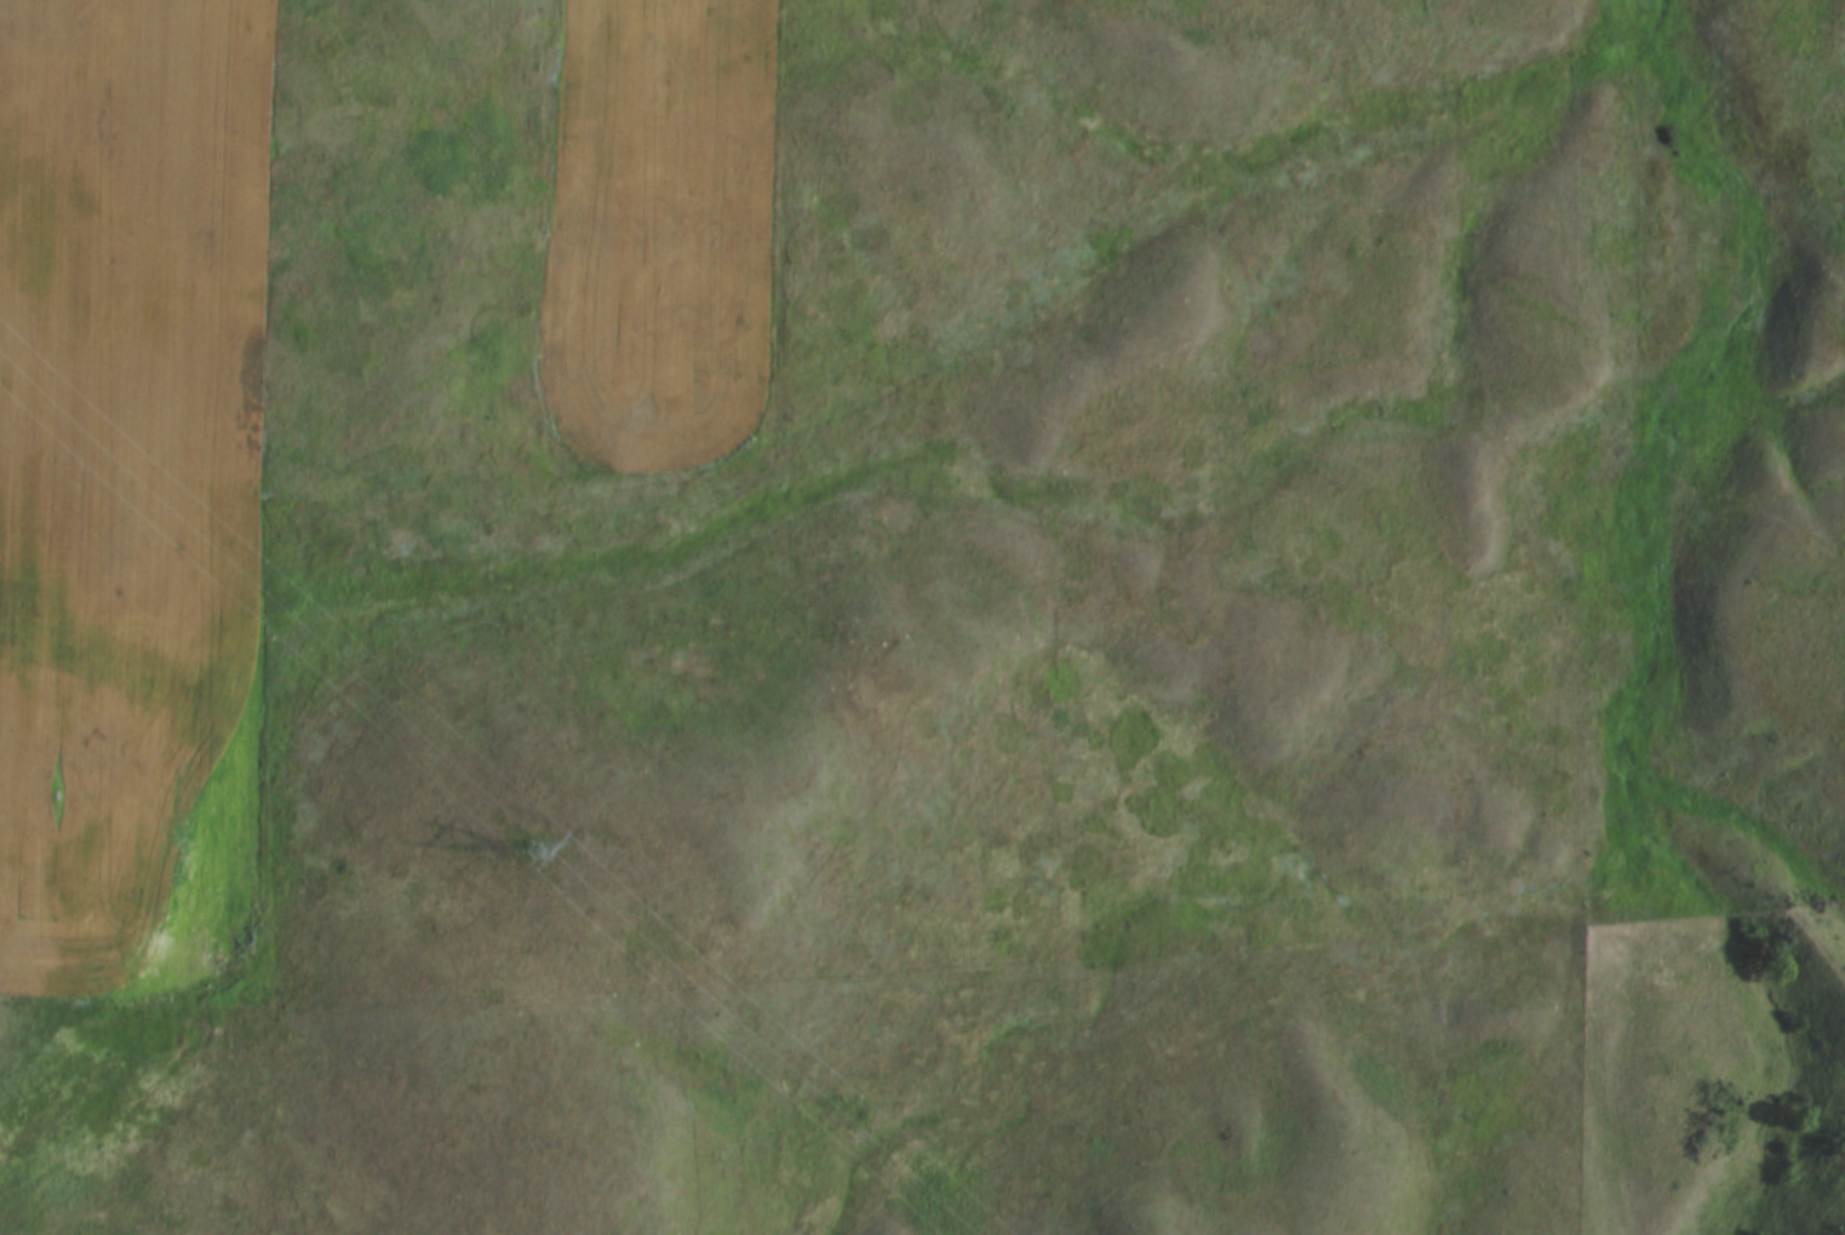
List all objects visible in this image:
power tower: (525, 854)

